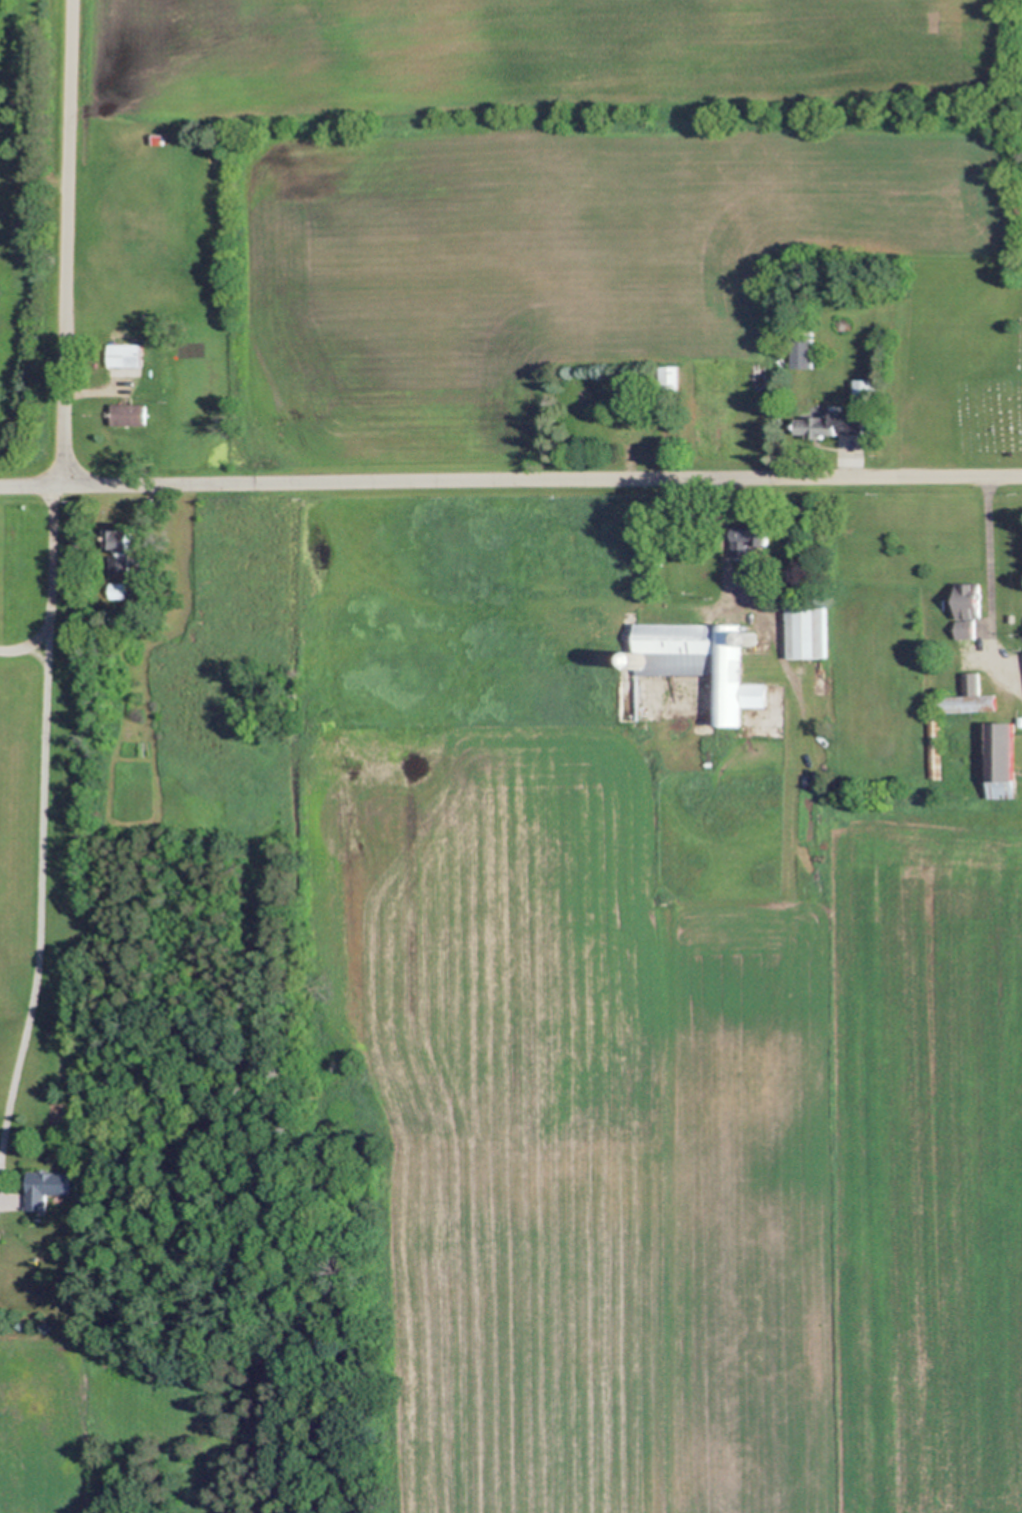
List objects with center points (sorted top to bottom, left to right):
road: (65, 242)
building: (797, 353)
building: (120, 355)
building: (665, 378)
park: (979, 385)
building: (122, 414)
building: (822, 424)
building: (636, 436)
road: (510, 478)
building: (751, 537)
road: (986, 548)
building: (121, 550)
road: (730, 554)
building: (116, 589)
building: (966, 608)
building: (1007, 618)
building: (805, 628)
building: (748, 638)
road: (24, 650)
building: (632, 659)
building: (697, 662)
building: (933, 745)
building: (998, 761)
road: (43, 832)
building: (46, 1187)
building: (59, 1197)

